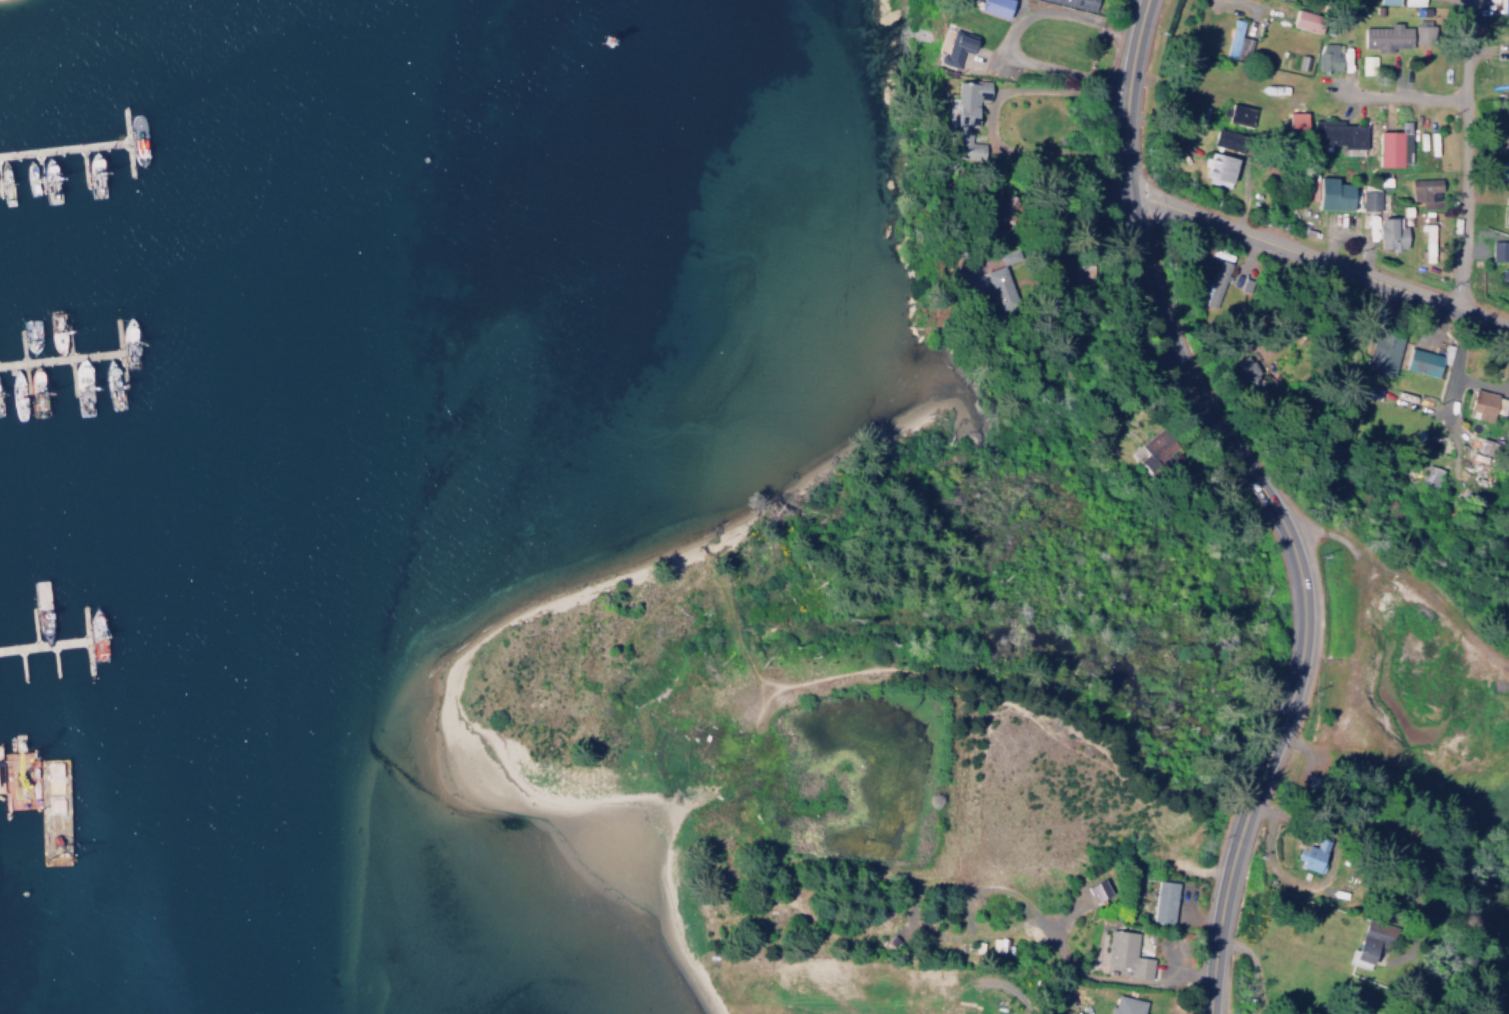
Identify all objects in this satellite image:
building: (1413, 0)
building: (1084, 2)
building: (1388, 2)
building: (1504, 3)
road: (1251, 5)
building: (997, 7)
building: (1306, 16)
building: (1233, 32)
road: (1008, 33)
building: (1387, 33)
building: (954, 43)
building: (1508, 46)
building: (1332, 57)
road: (1400, 89)
building: (1239, 110)
building: (965, 112)
road: (992, 115)
building: (1294, 119)
building: (1336, 128)
building: (1226, 135)
pier: (125, 141)
building: (1389, 145)
pier: (62, 147)
road: (1463, 152)
building: (1217, 165)
building: (1505, 170)
building: (1426, 187)
building: (1336, 195)
building: (1369, 200)
building: (1506, 206)
building: (1391, 234)
building: (1427, 238)
building: (1500, 252)
road: (1319, 255)
road: (1147, 271)
building: (1217, 283)
pier: (117, 352)
building: (1383, 352)
pier: (58, 357)
building: (1423, 361)
building: (1483, 402)
building: (1159, 441)
building: (1429, 475)
pier: (85, 642)
pier: (42, 644)
road: (1264, 761)
pier: (1, 769)
building: (1, 779)
road: (2, 790)
pier: (5, 790)
building: (1313, 856)
building: (1097, 890)
building: (1164, 900)
building: (1372, 943)
building: (1126, 954)
building: (1126, 1005)

